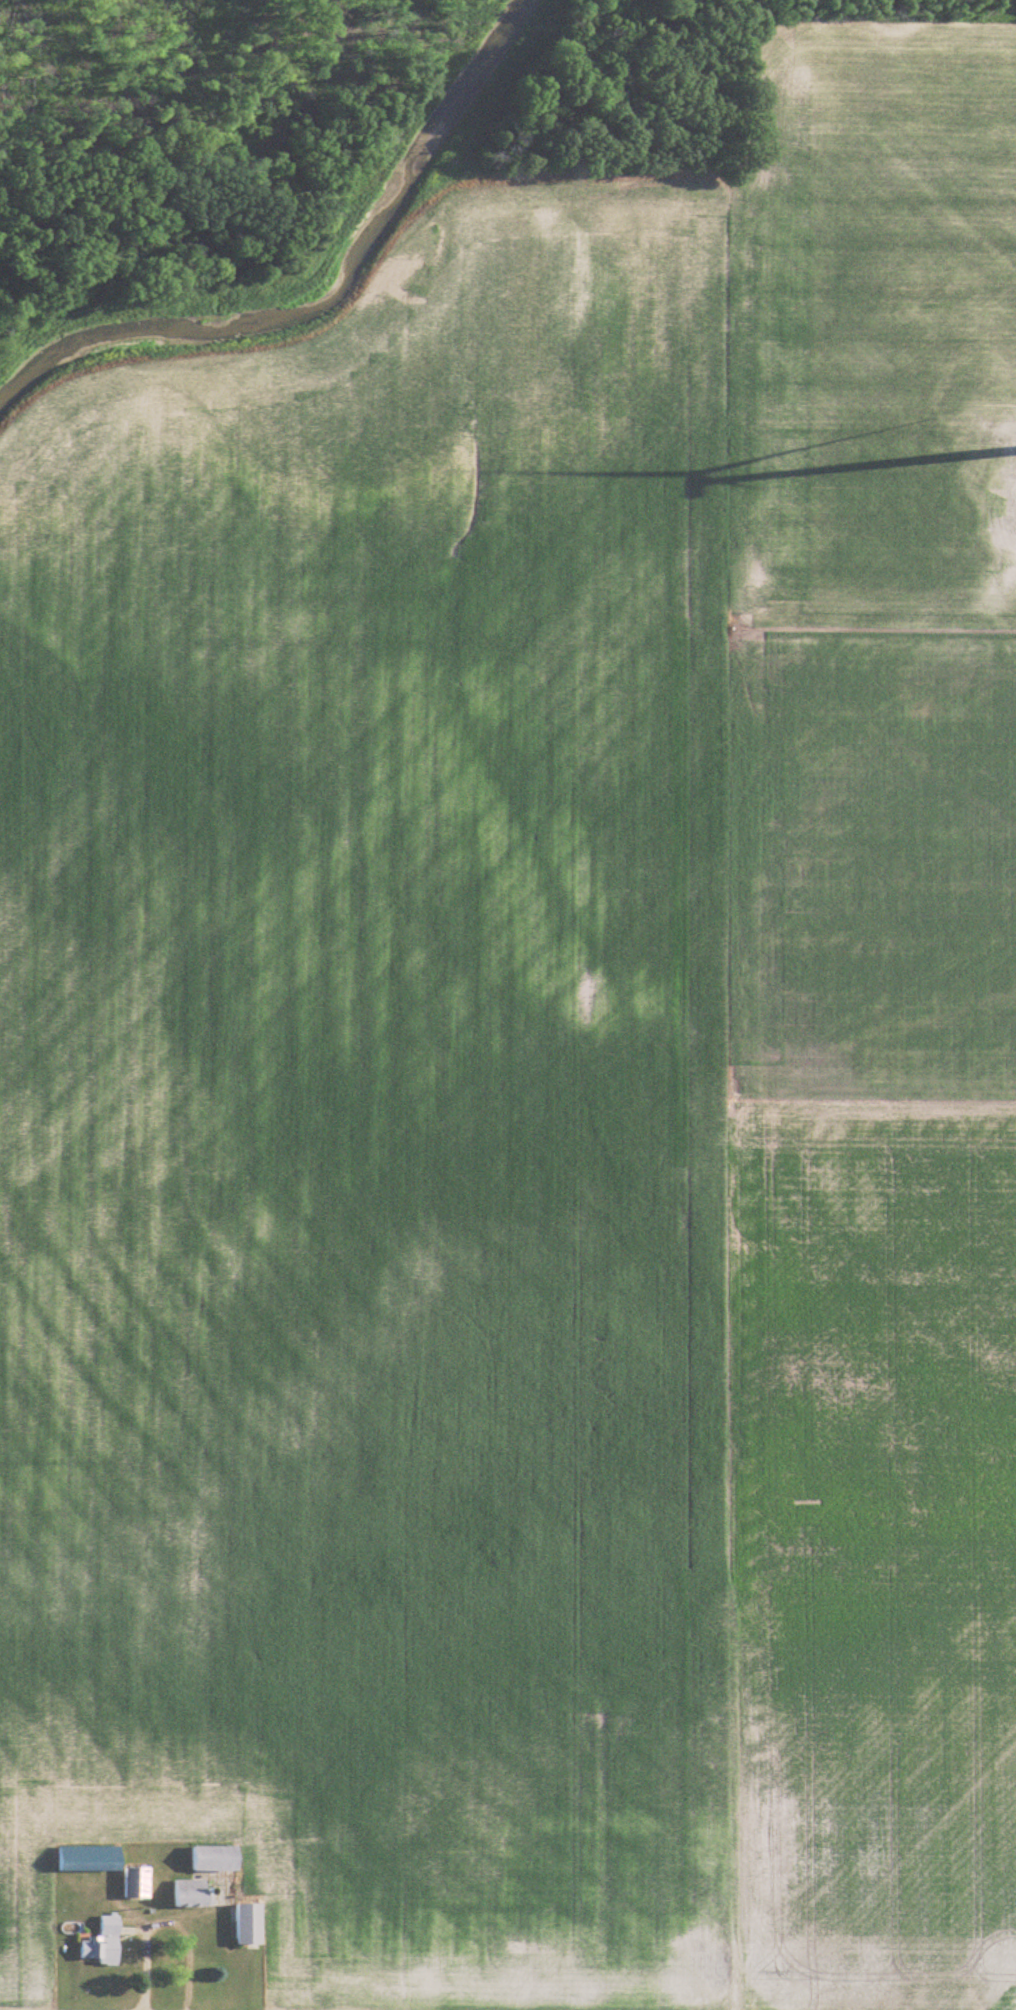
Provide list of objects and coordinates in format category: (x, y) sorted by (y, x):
river: (331, 301)
building: (216, 1859)
building: (107, 1868)
building: (193, 1894)
building: (249, 1924)
building: (103, 1942)

